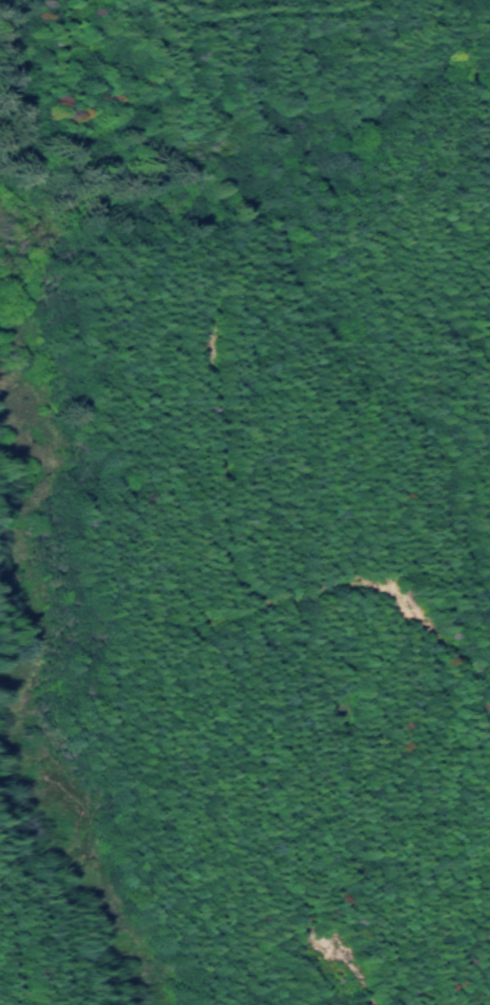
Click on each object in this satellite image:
road: (441, 639)
road: (355, 970)

